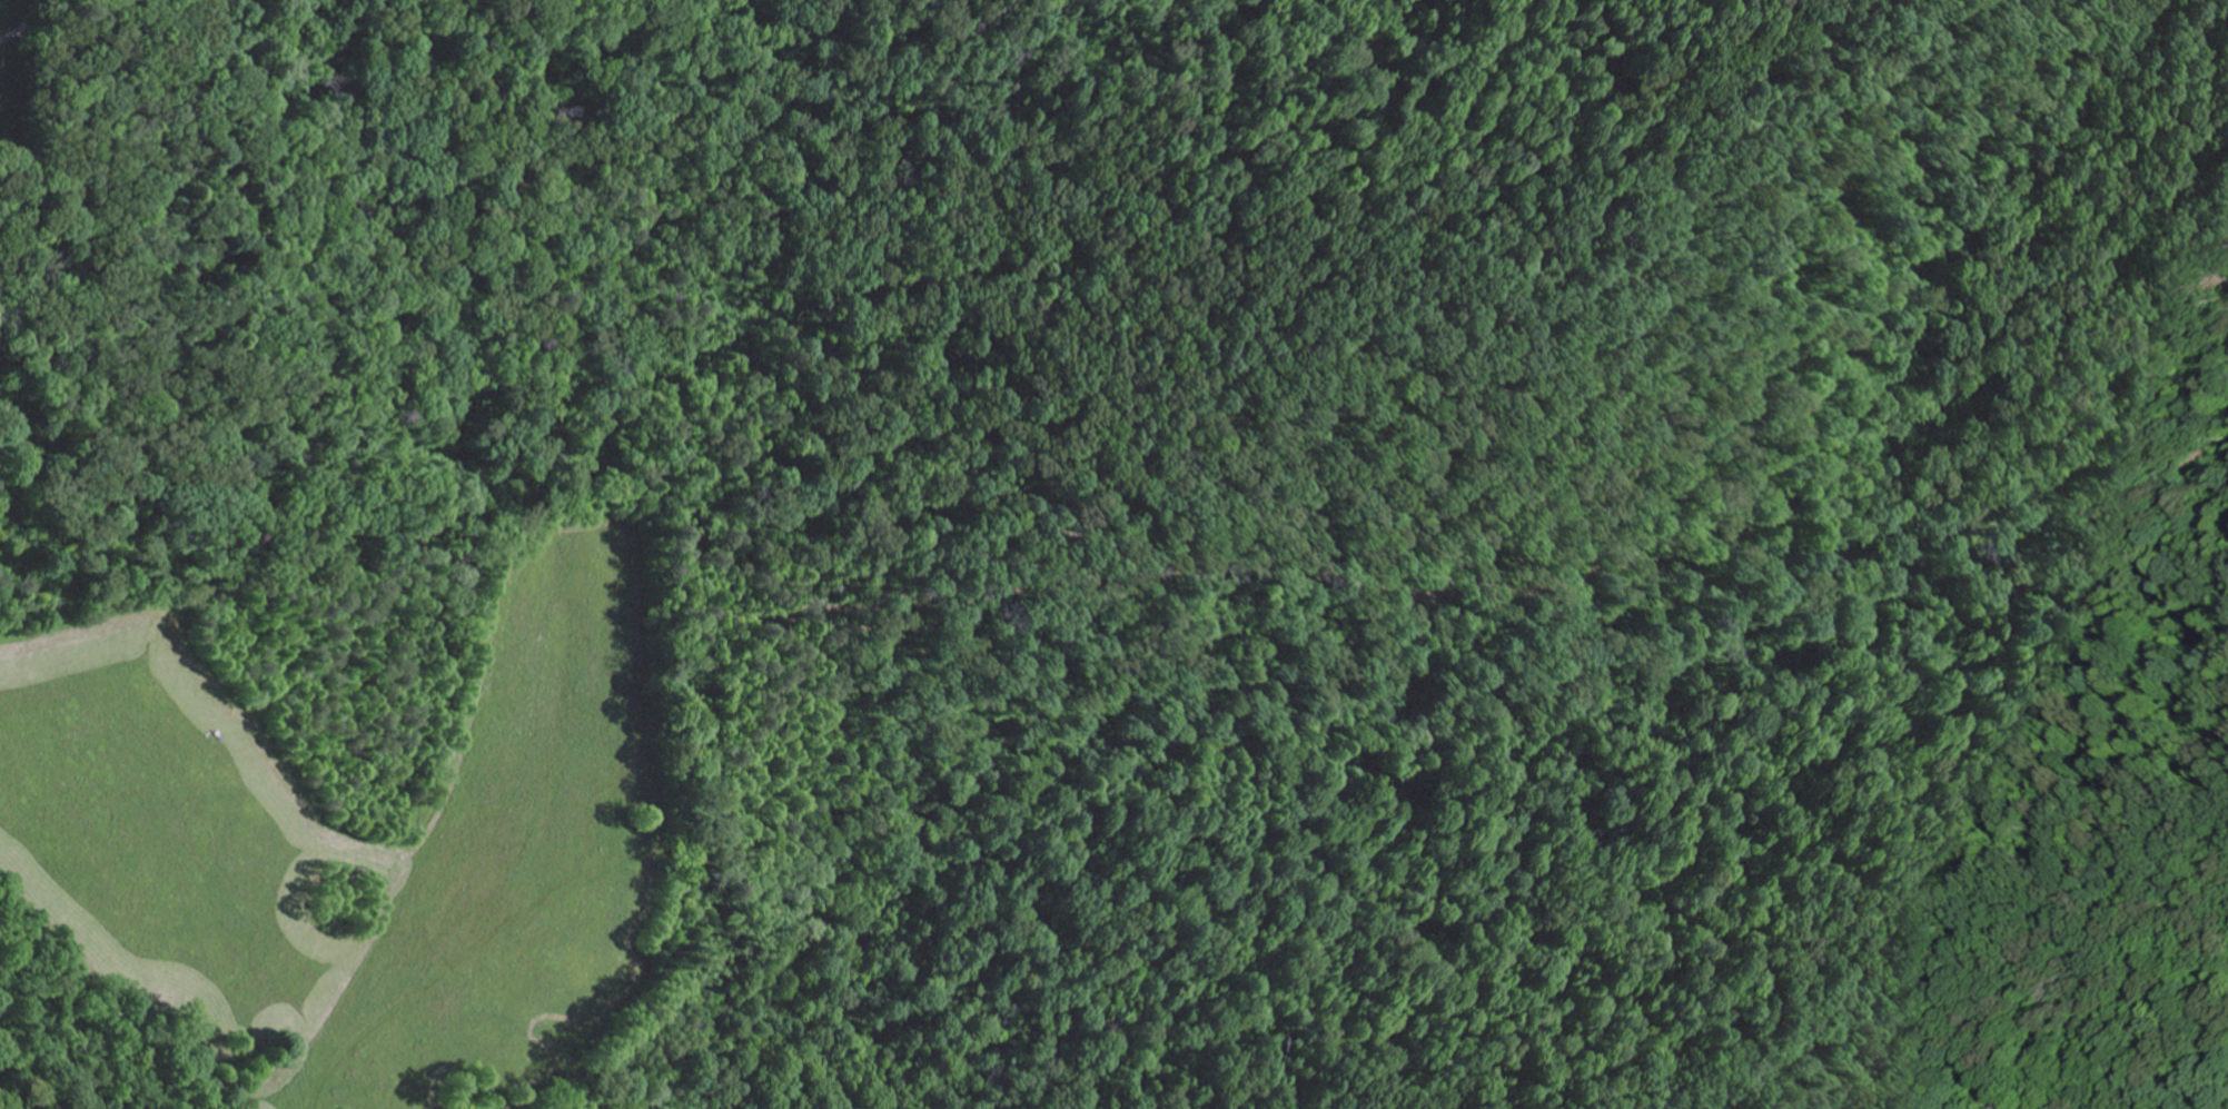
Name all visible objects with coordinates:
road: (16, 20)
park: (28, 41)

